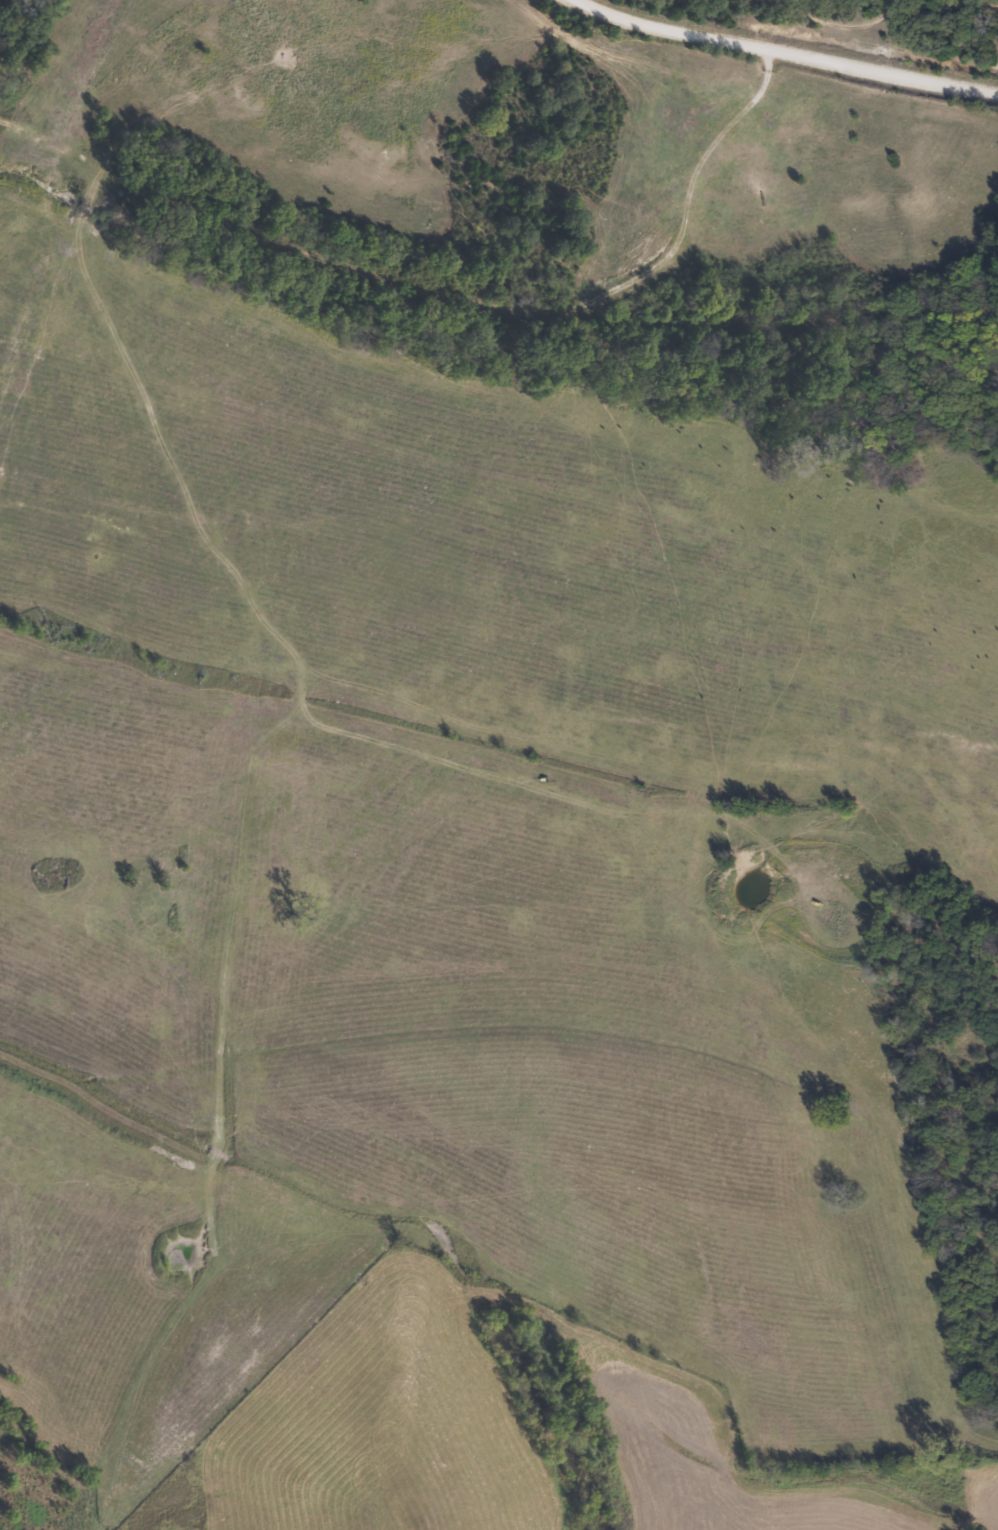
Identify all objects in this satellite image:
road: (700, 15)
road: (757, 143)
railway: (484, 306)

